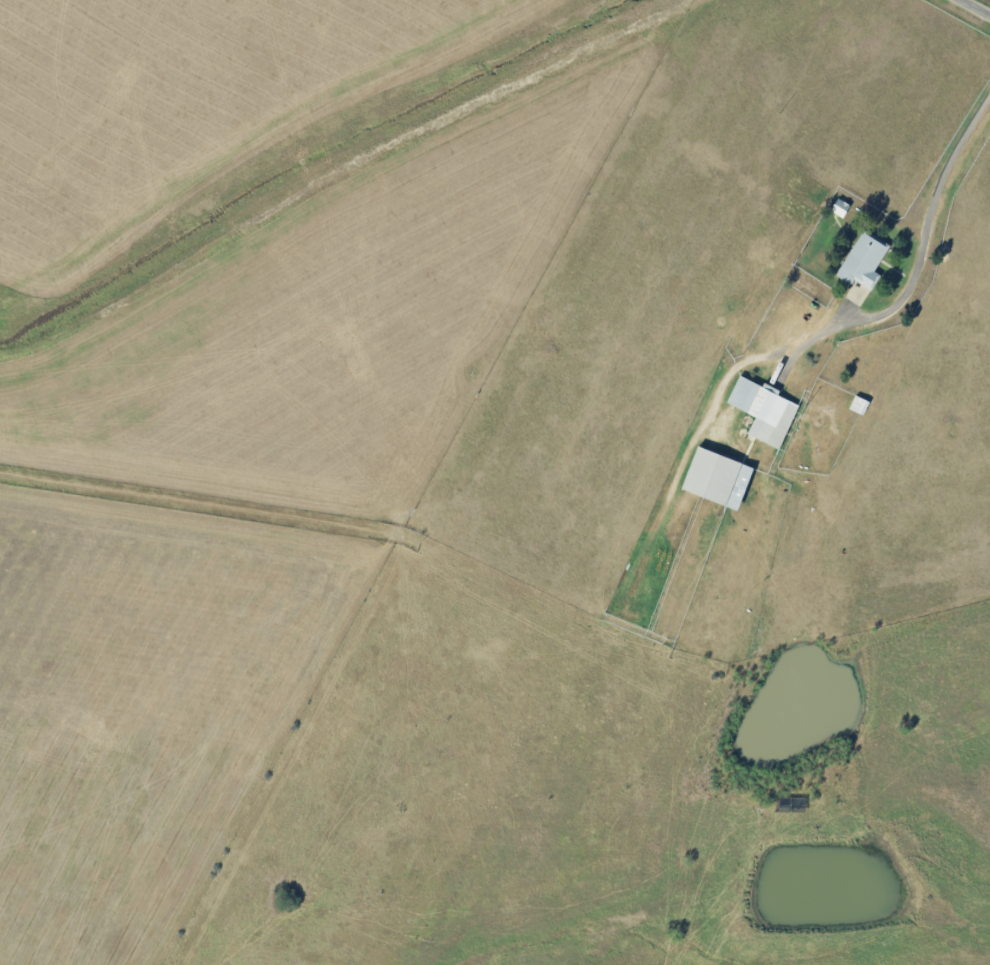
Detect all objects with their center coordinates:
road: (981, 4)
building: (841, 207)
building: (865, 260)
road: (919, 260)
building: (765, 409)
building: (719, 477)

